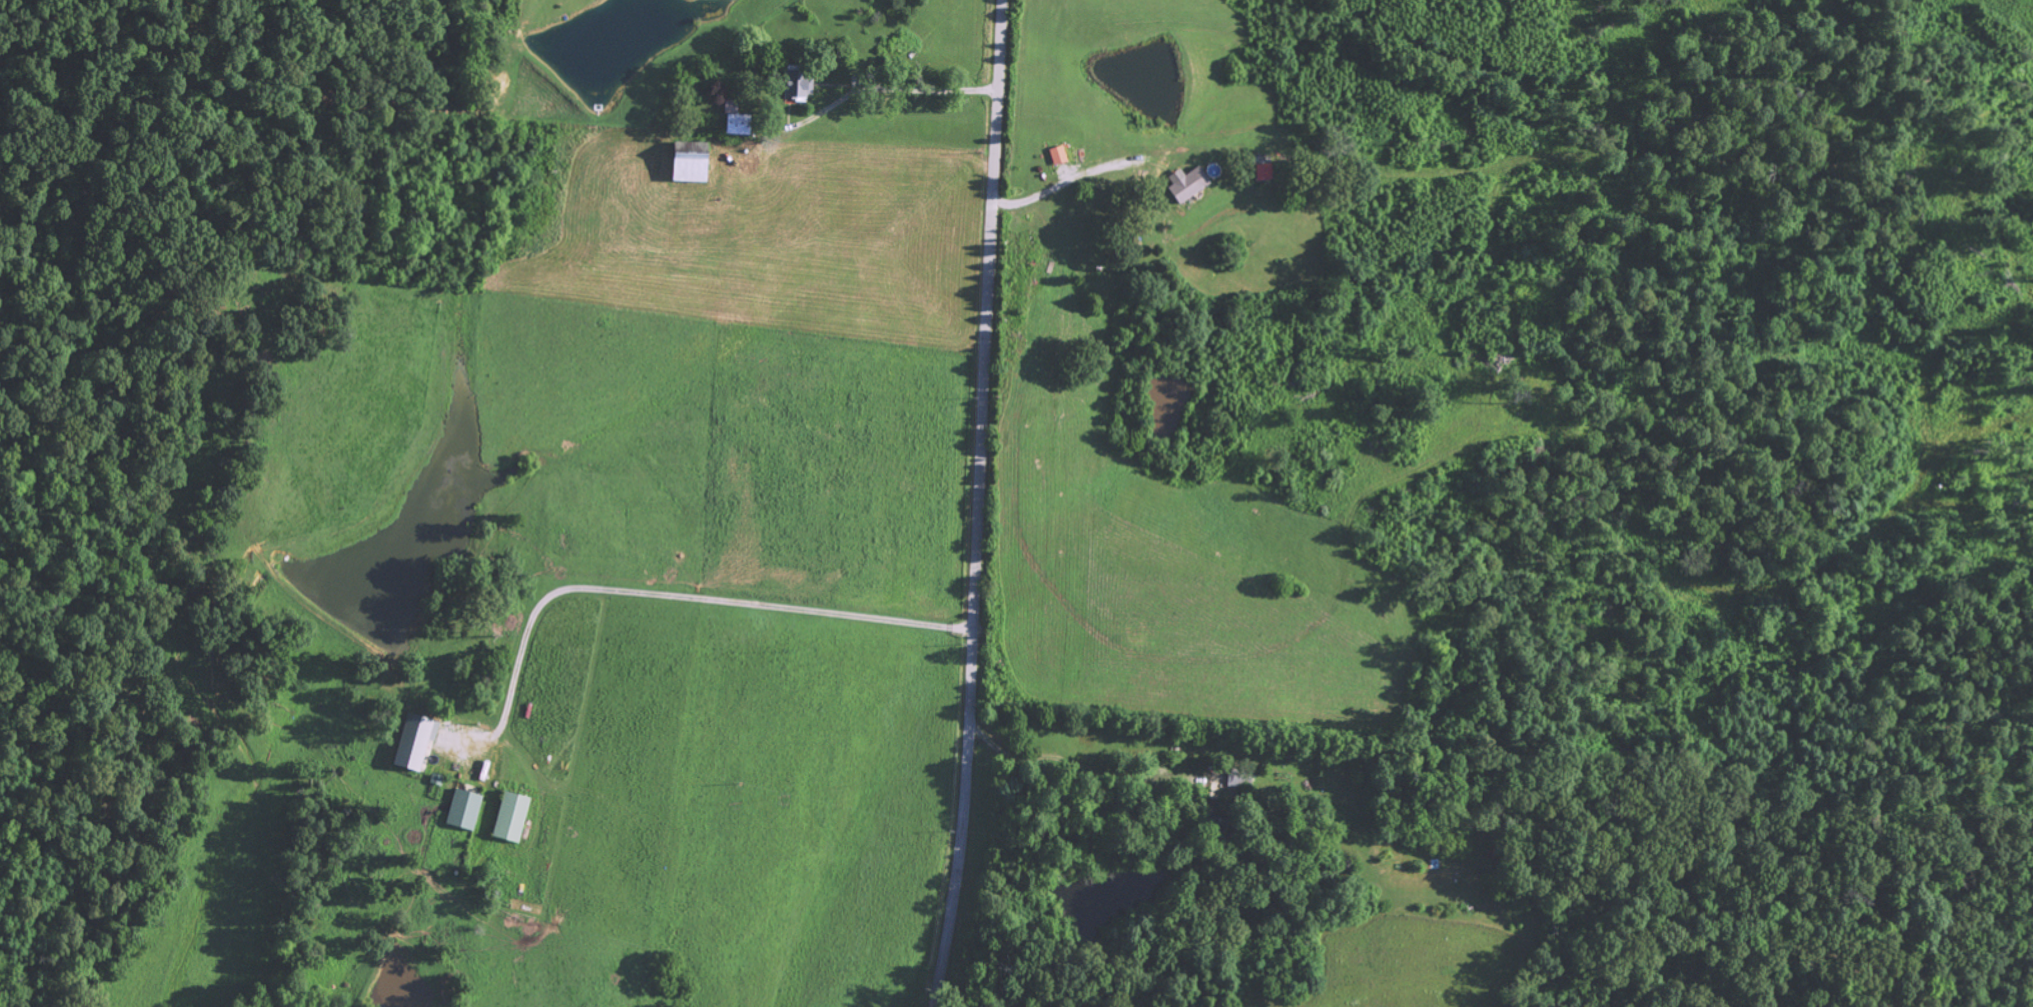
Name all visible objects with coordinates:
building: (794, 84)
building: (733, 123)
building: (1056, 154)
building: (683, 166)
building: (1259, 172)
building: (1186, 184)
road: (979, 504)
building: (411, 741)
building: (461, 809)
building: (508, 817)

